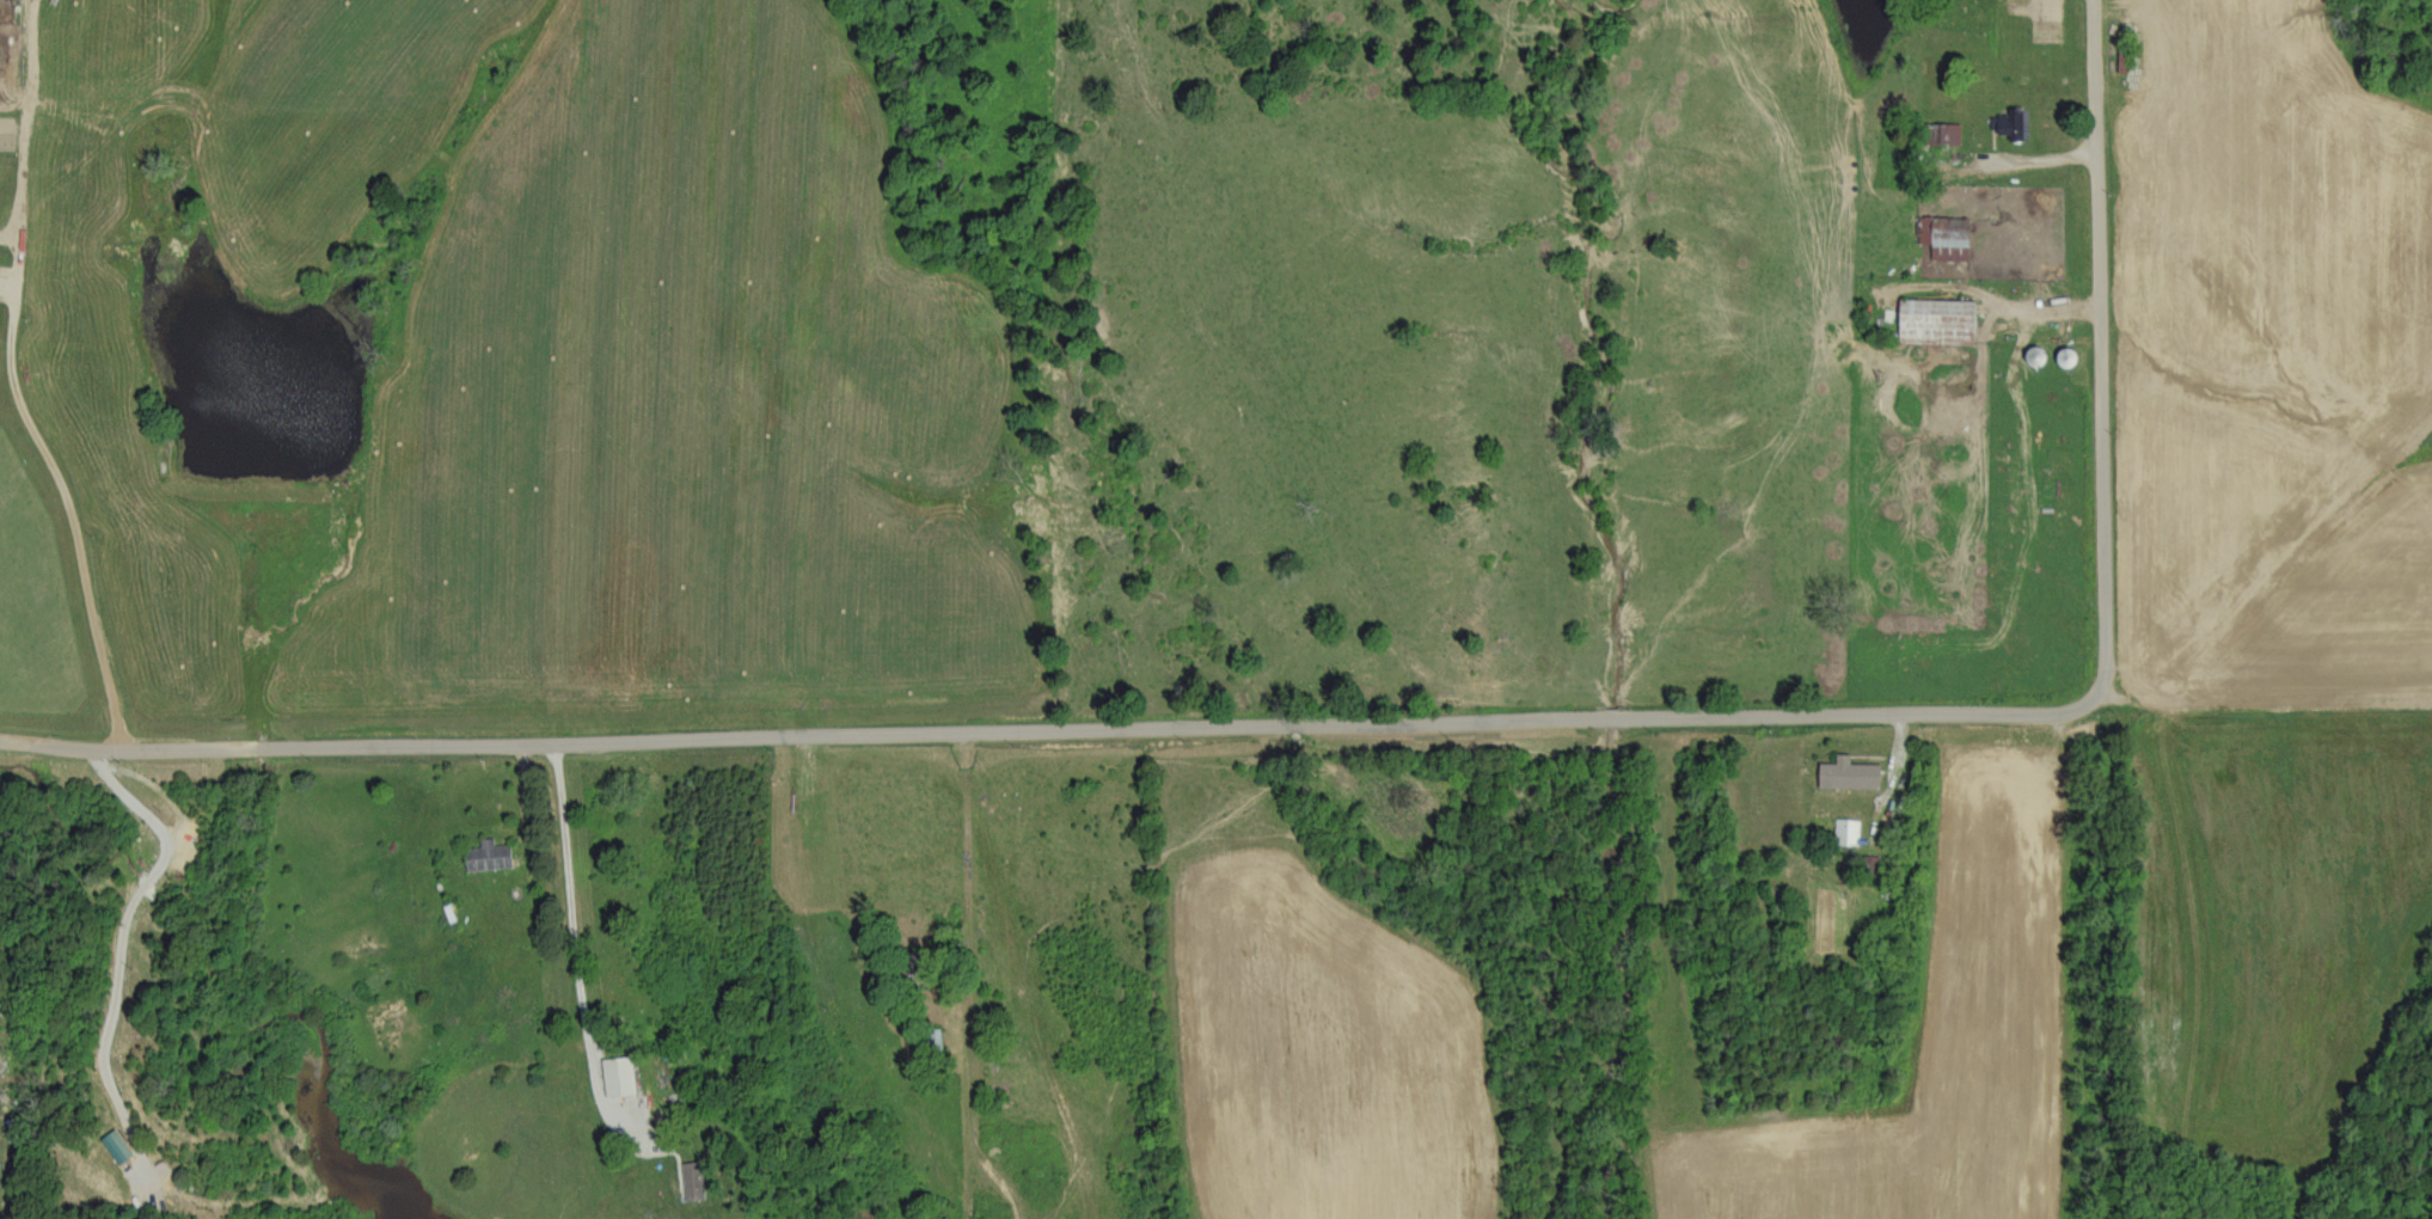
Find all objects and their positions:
building: (1944, 131)
building: (1948, 235)
road: (2023, 304)
building: (1940, 320)
road: (2096, 341)
road: (1048, 721)
building: (1850, 772)
building: (1846, 829)
building: (490, 853)
road: (941, 903)
road: (114, 945)
building: (620, 1073)
building: (694, 1178)

